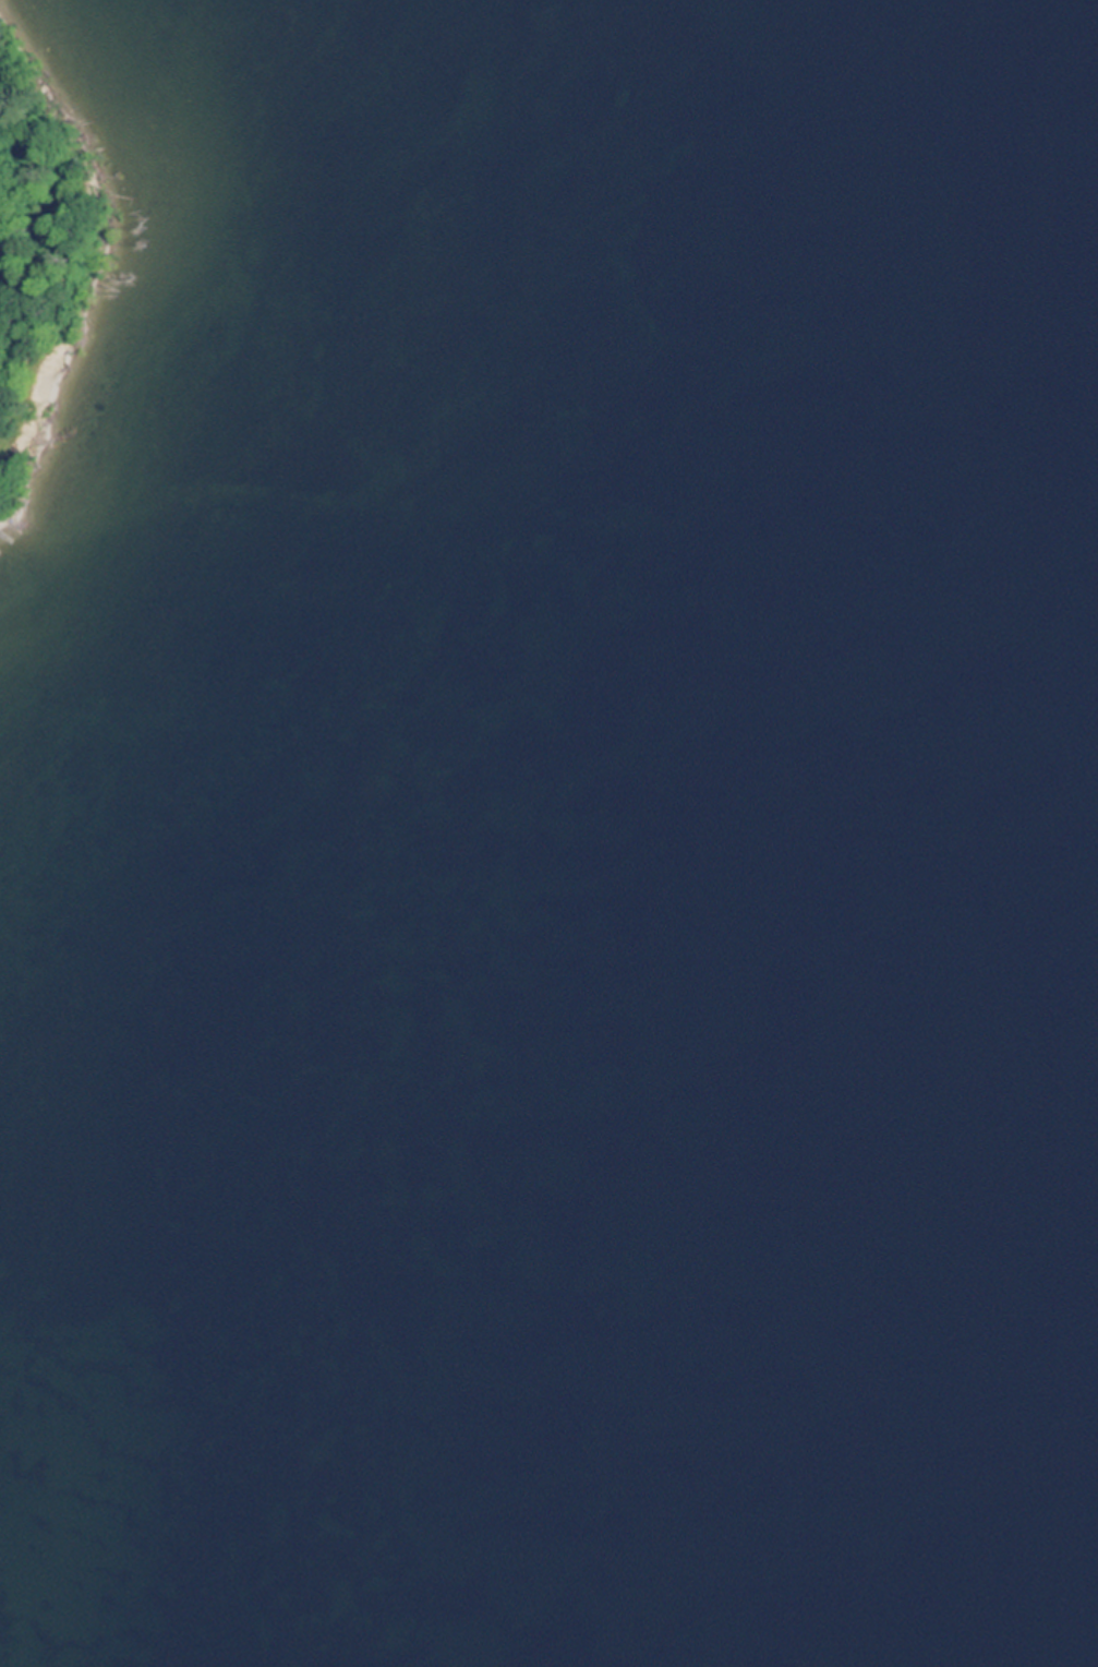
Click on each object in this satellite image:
road: (36, 348)

